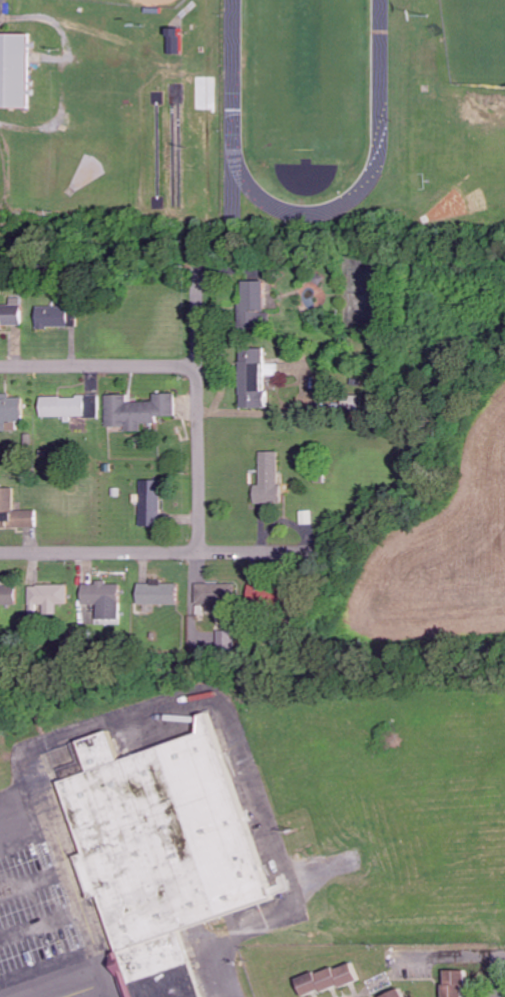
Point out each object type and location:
park: (152, 2)
park: (476, 39)
building: (14, 70)
park: (309, 74)
track: (235, 108)
track: (372, 179)
building: (252, 303)
building: (11, 314)
building: (53, 316)
road: (99, 362)
building: (70, 406)
building: (10, 409)
building: (138, 410)
road: (199, 410)
building: (269, 478)
building: (150, 503)
building: (13, 512)
road: (161, 551)
building: (157, 593)
building: (8, 594)
building: (47, 598)
building: (103, 599)
road: (167, 702)
road: (19, 791)
road: (27, 835)
building: (160, 835)
road: (35, 881)
road: (42, 927)
building: (160, 968)
road: (49, 970)
building: (326, 979)
building: (454, 983)
road: (500, 983)
road: (97, 992)
building: (393, 994)

